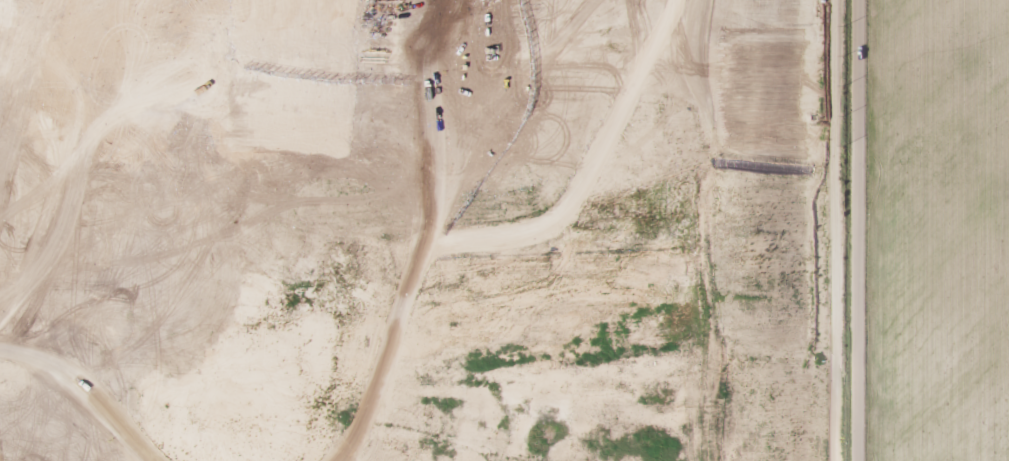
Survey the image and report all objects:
road: (857, 230)

